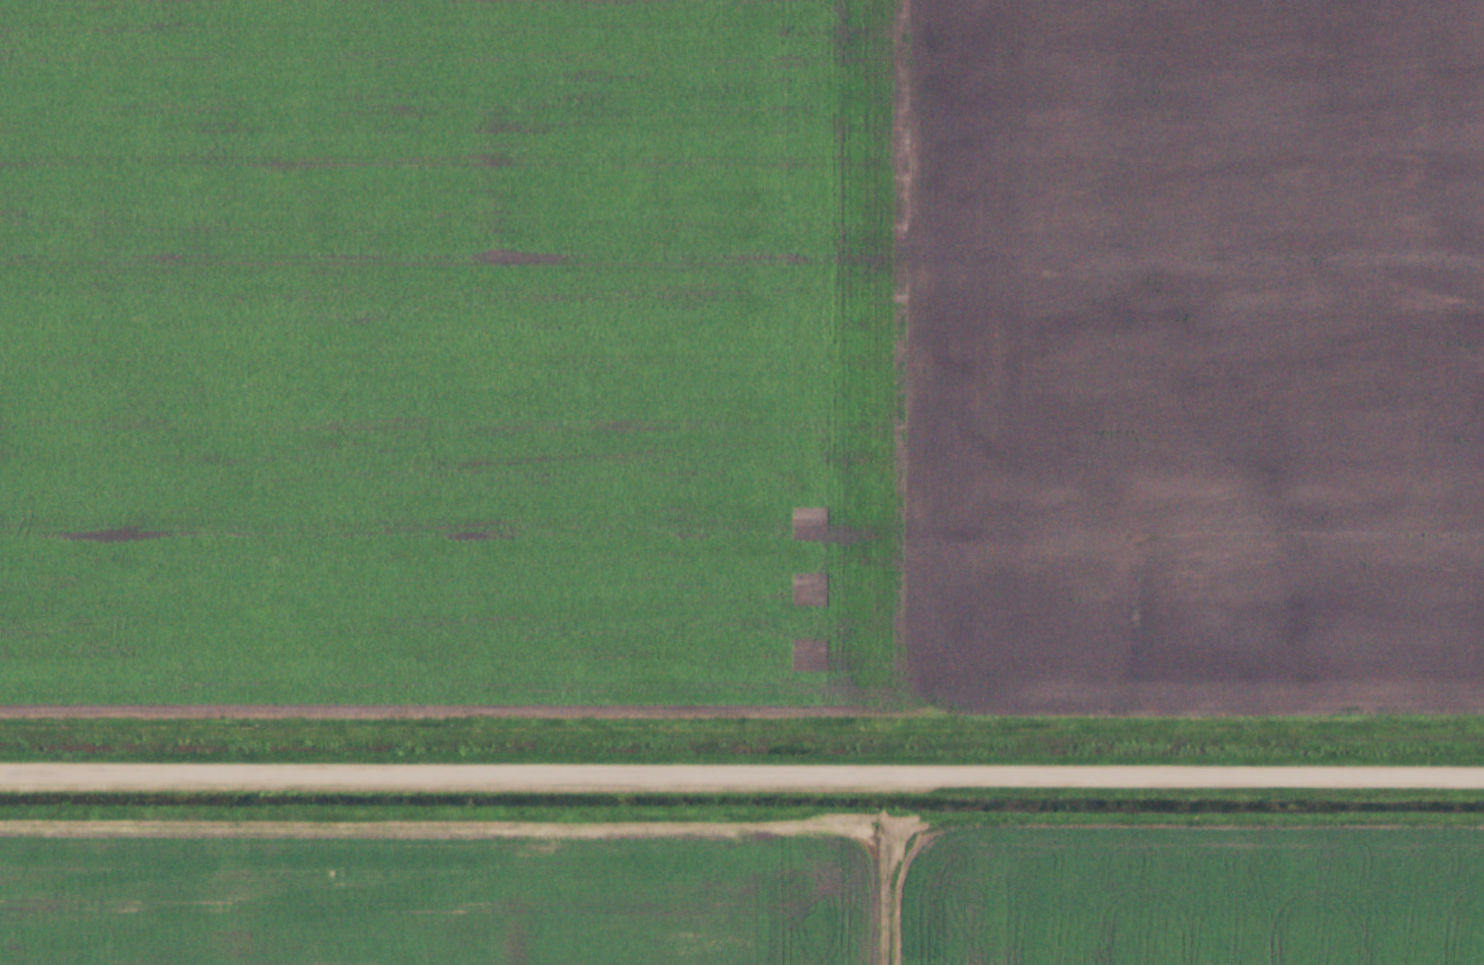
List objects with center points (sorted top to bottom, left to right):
road: (742, 772)

